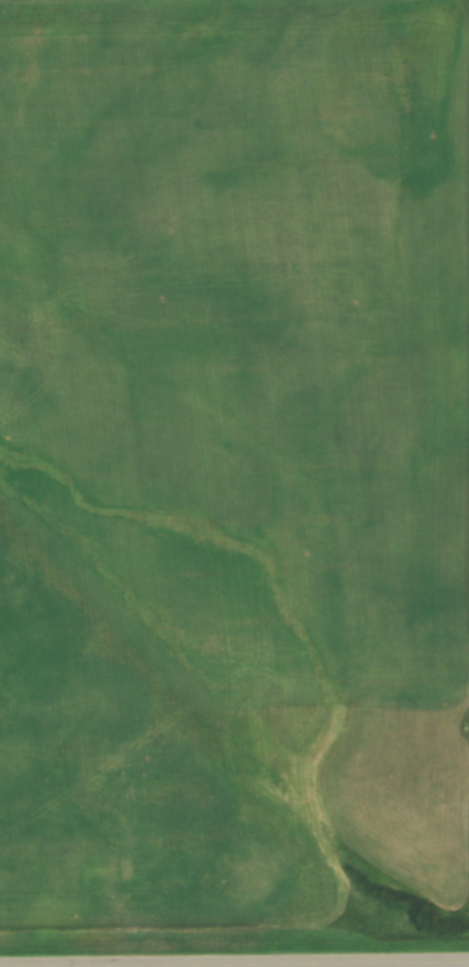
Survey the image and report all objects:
road: (234, 960)

